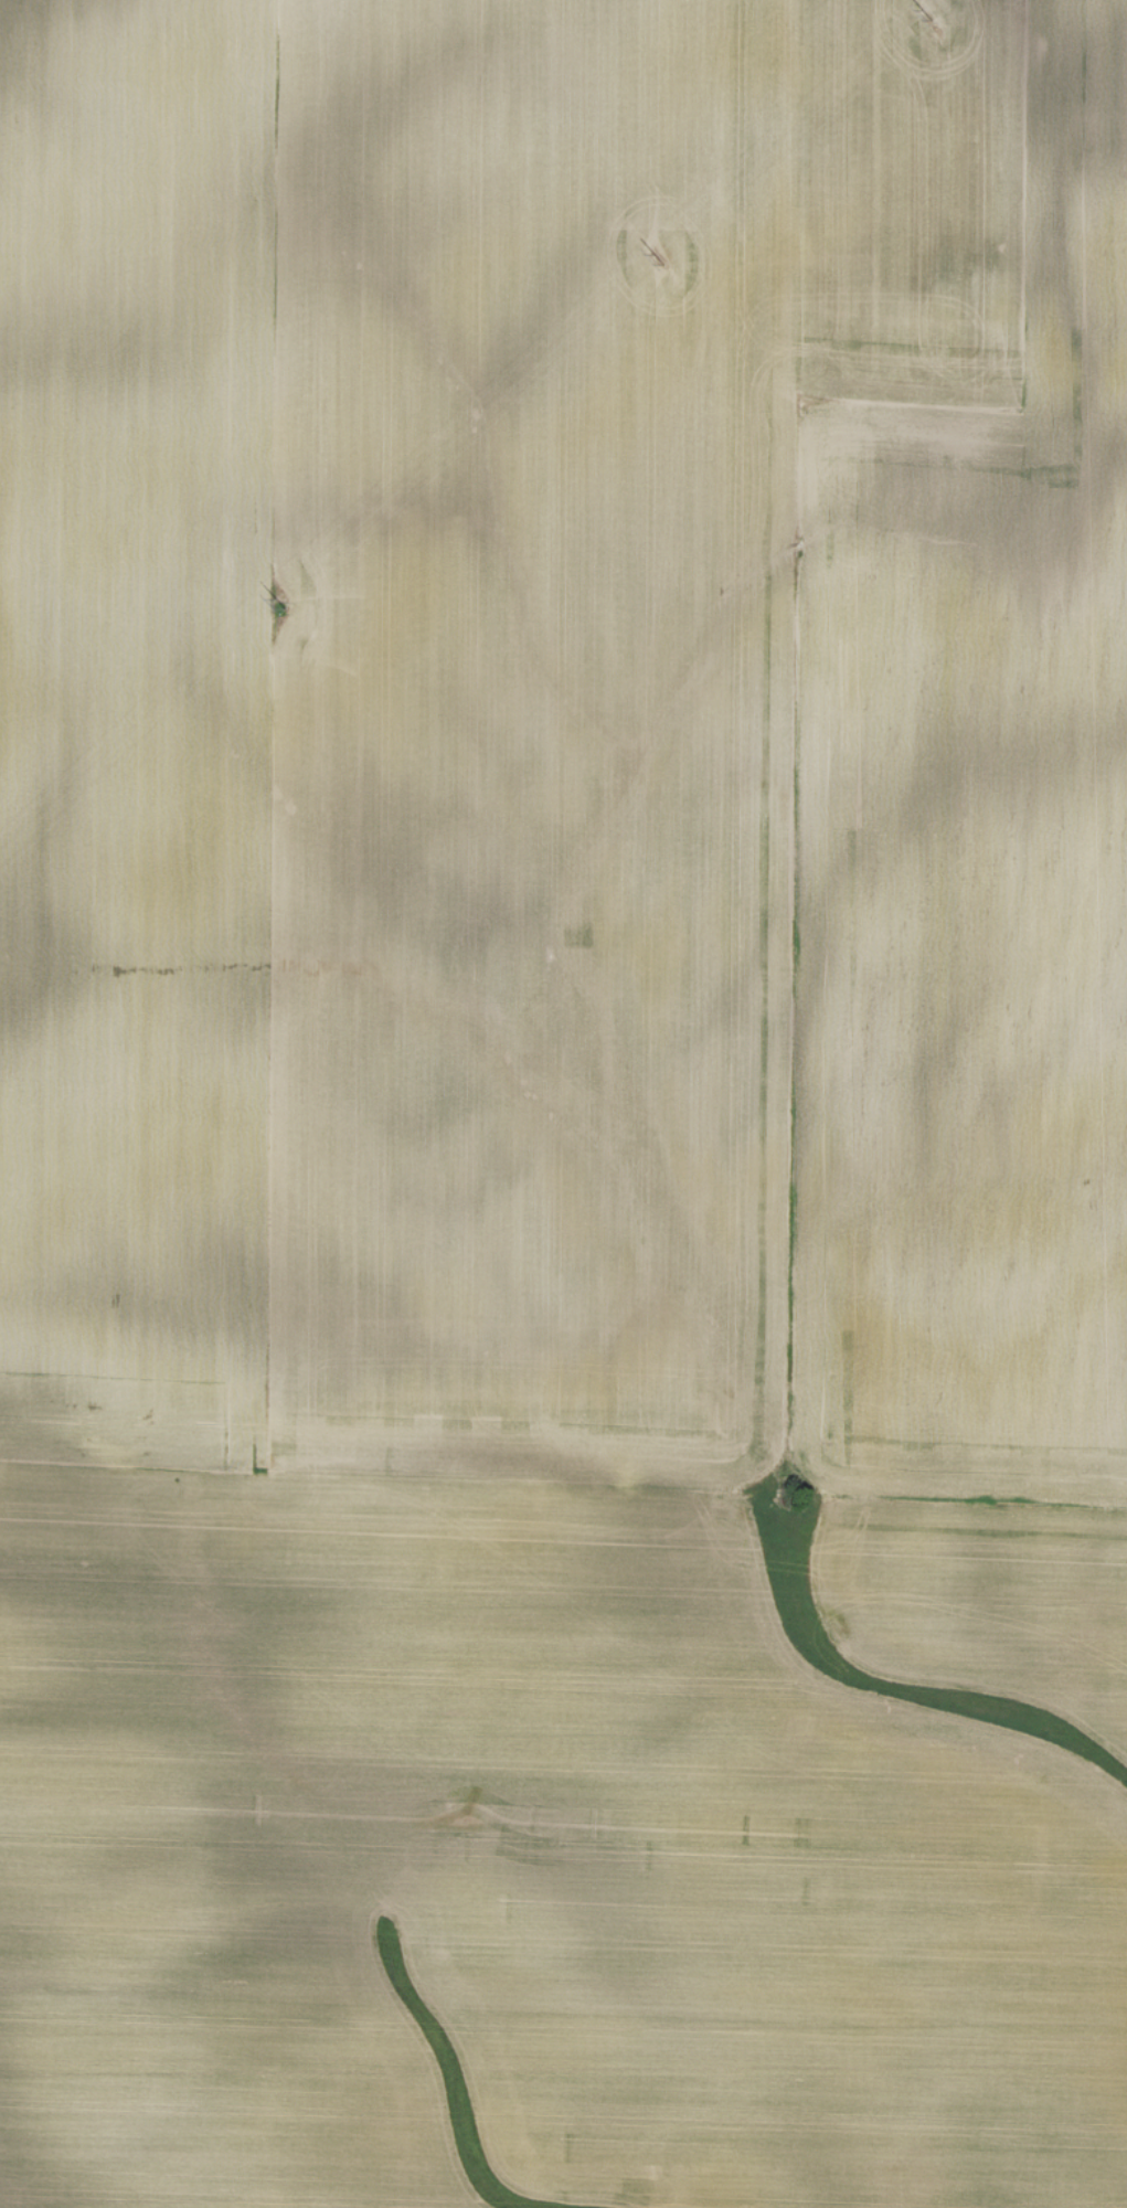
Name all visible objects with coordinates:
power tower: (927, 18)
power tower: (660, 262)
power tower: (284, 606)

